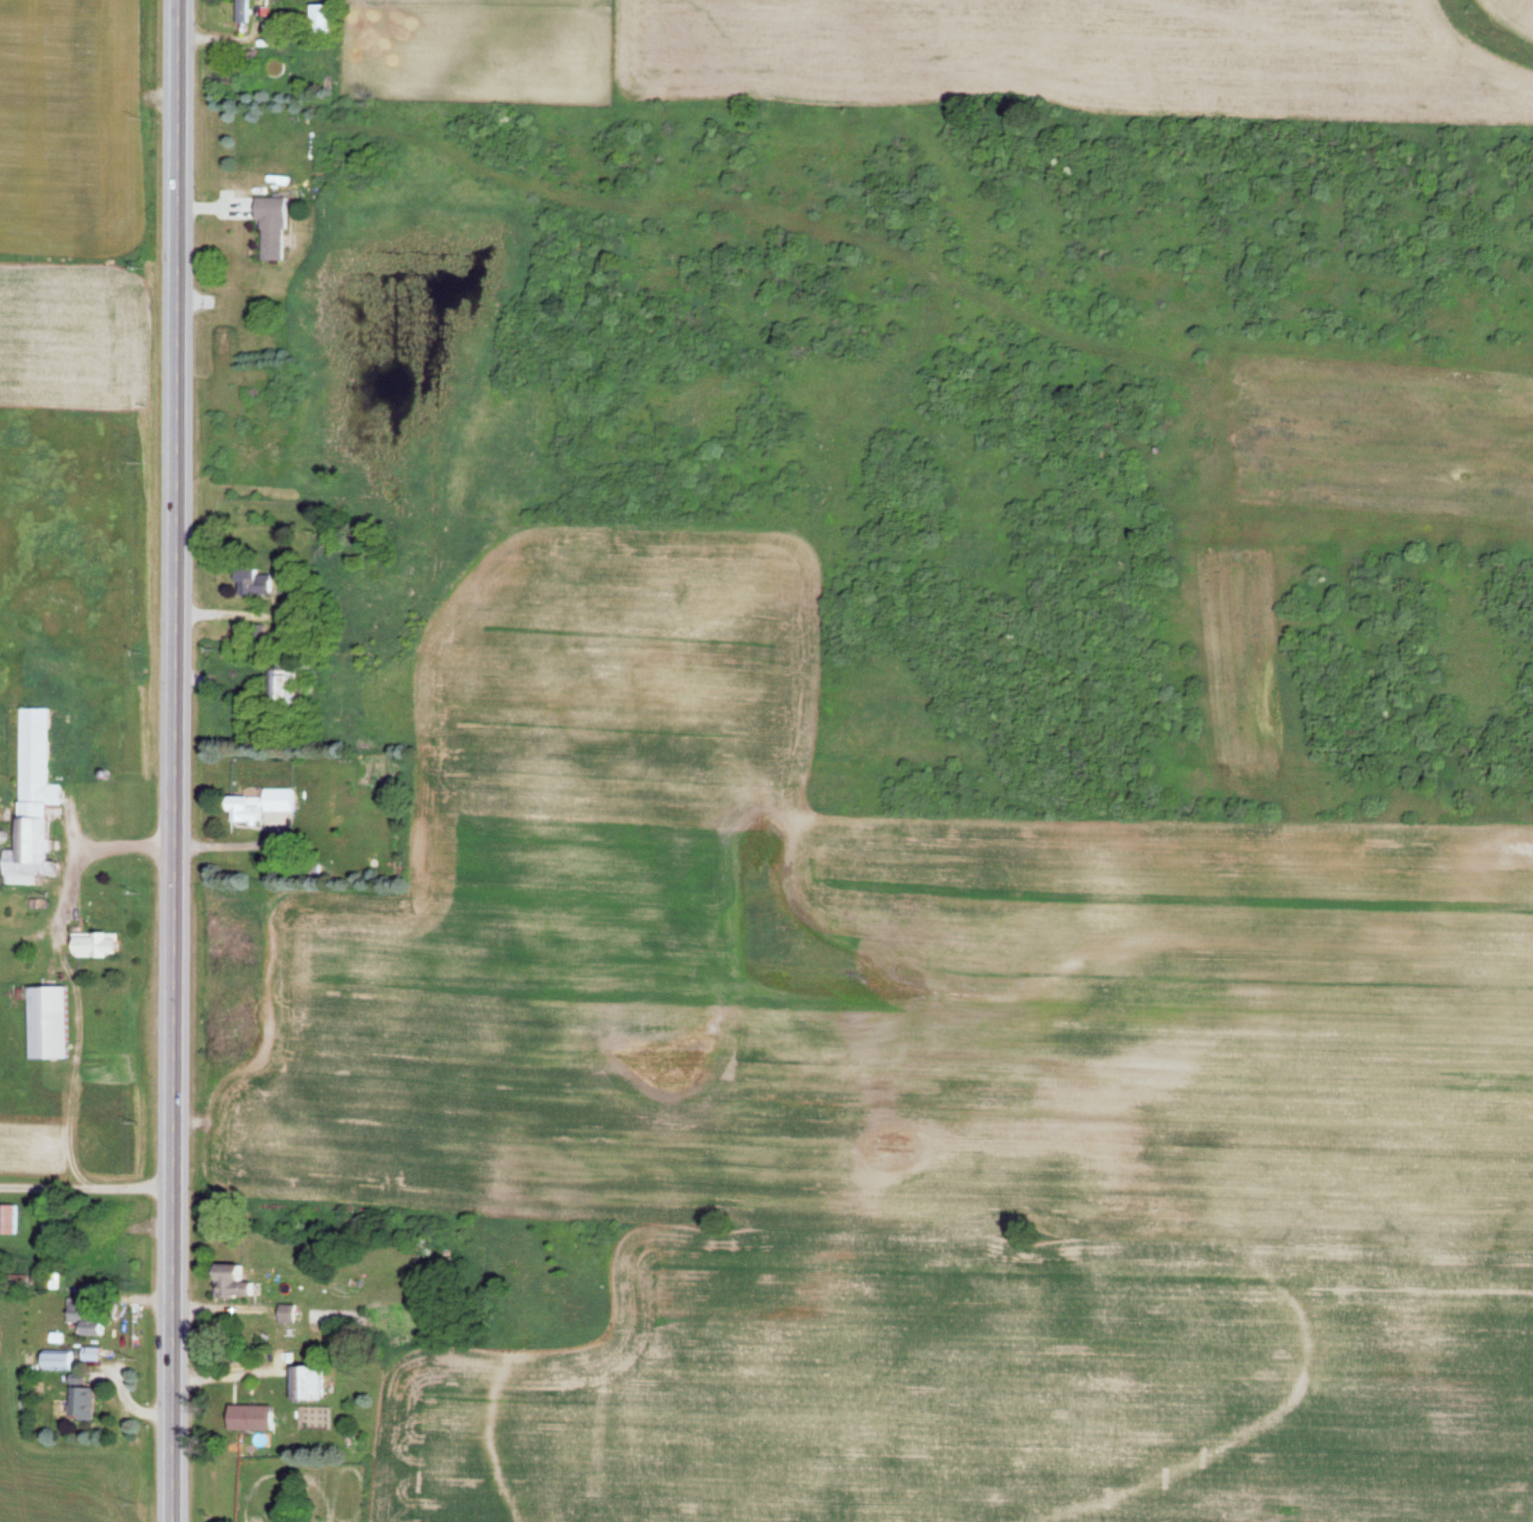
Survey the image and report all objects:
building: (241, 12)
building: (319, 20)
building: (270, 229)
building: (251, 583)
building: (280, 687)
road: (175, 760)
building: (30, 801)
building: (260, 808)
building: (92, 945)
building: (45, 1022)
road: (85, 1188)
building: (8, 1219)
building: (55, 1277)
building: (229, 1281)
building: (285, 1313)
building: (89, 1330)
building: (90, 1354)
building: (57, 1360)
building: (304, 1383)
building: (80, 1403)
building: (248, 1418)

